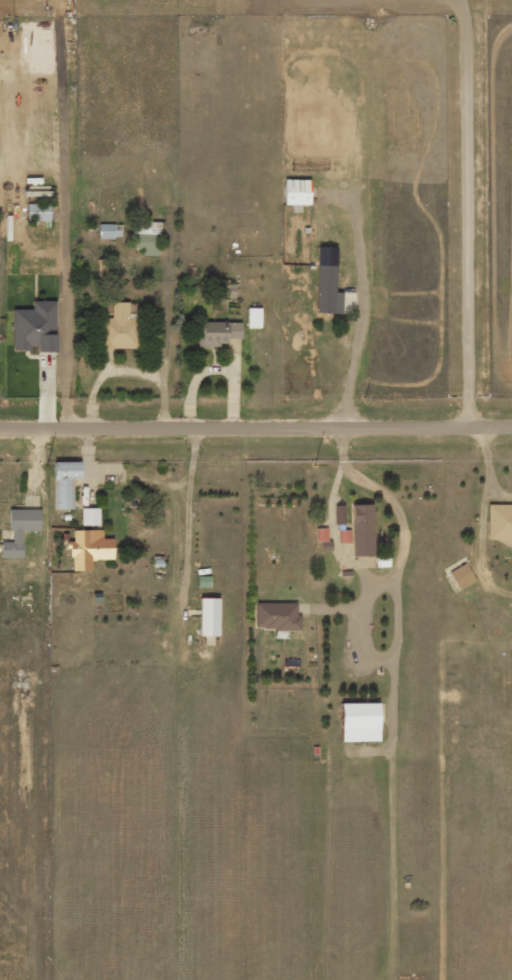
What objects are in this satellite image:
building: (296, 192)
building: (38, 212)
building: (109, 231)
building: (145, 237)
building: (327, 282)
building: (254, 317)
building: (34, 327)
building: (118, 329)
building: (217, 333)
road: (256, 425)
power tower: (311, 463)
power tower: (50, 465)
building: (64, 483)
building: (339, 514)
building: (90, 516)
building: (500, 523)
building: (362, 530)
building: (19, 531)
building: (321, 534)
building: (325, 545)
building: (89, 548)
building: (461, 576)
building: (208, 616)
building: (276, 616)
building: (359, 722)

